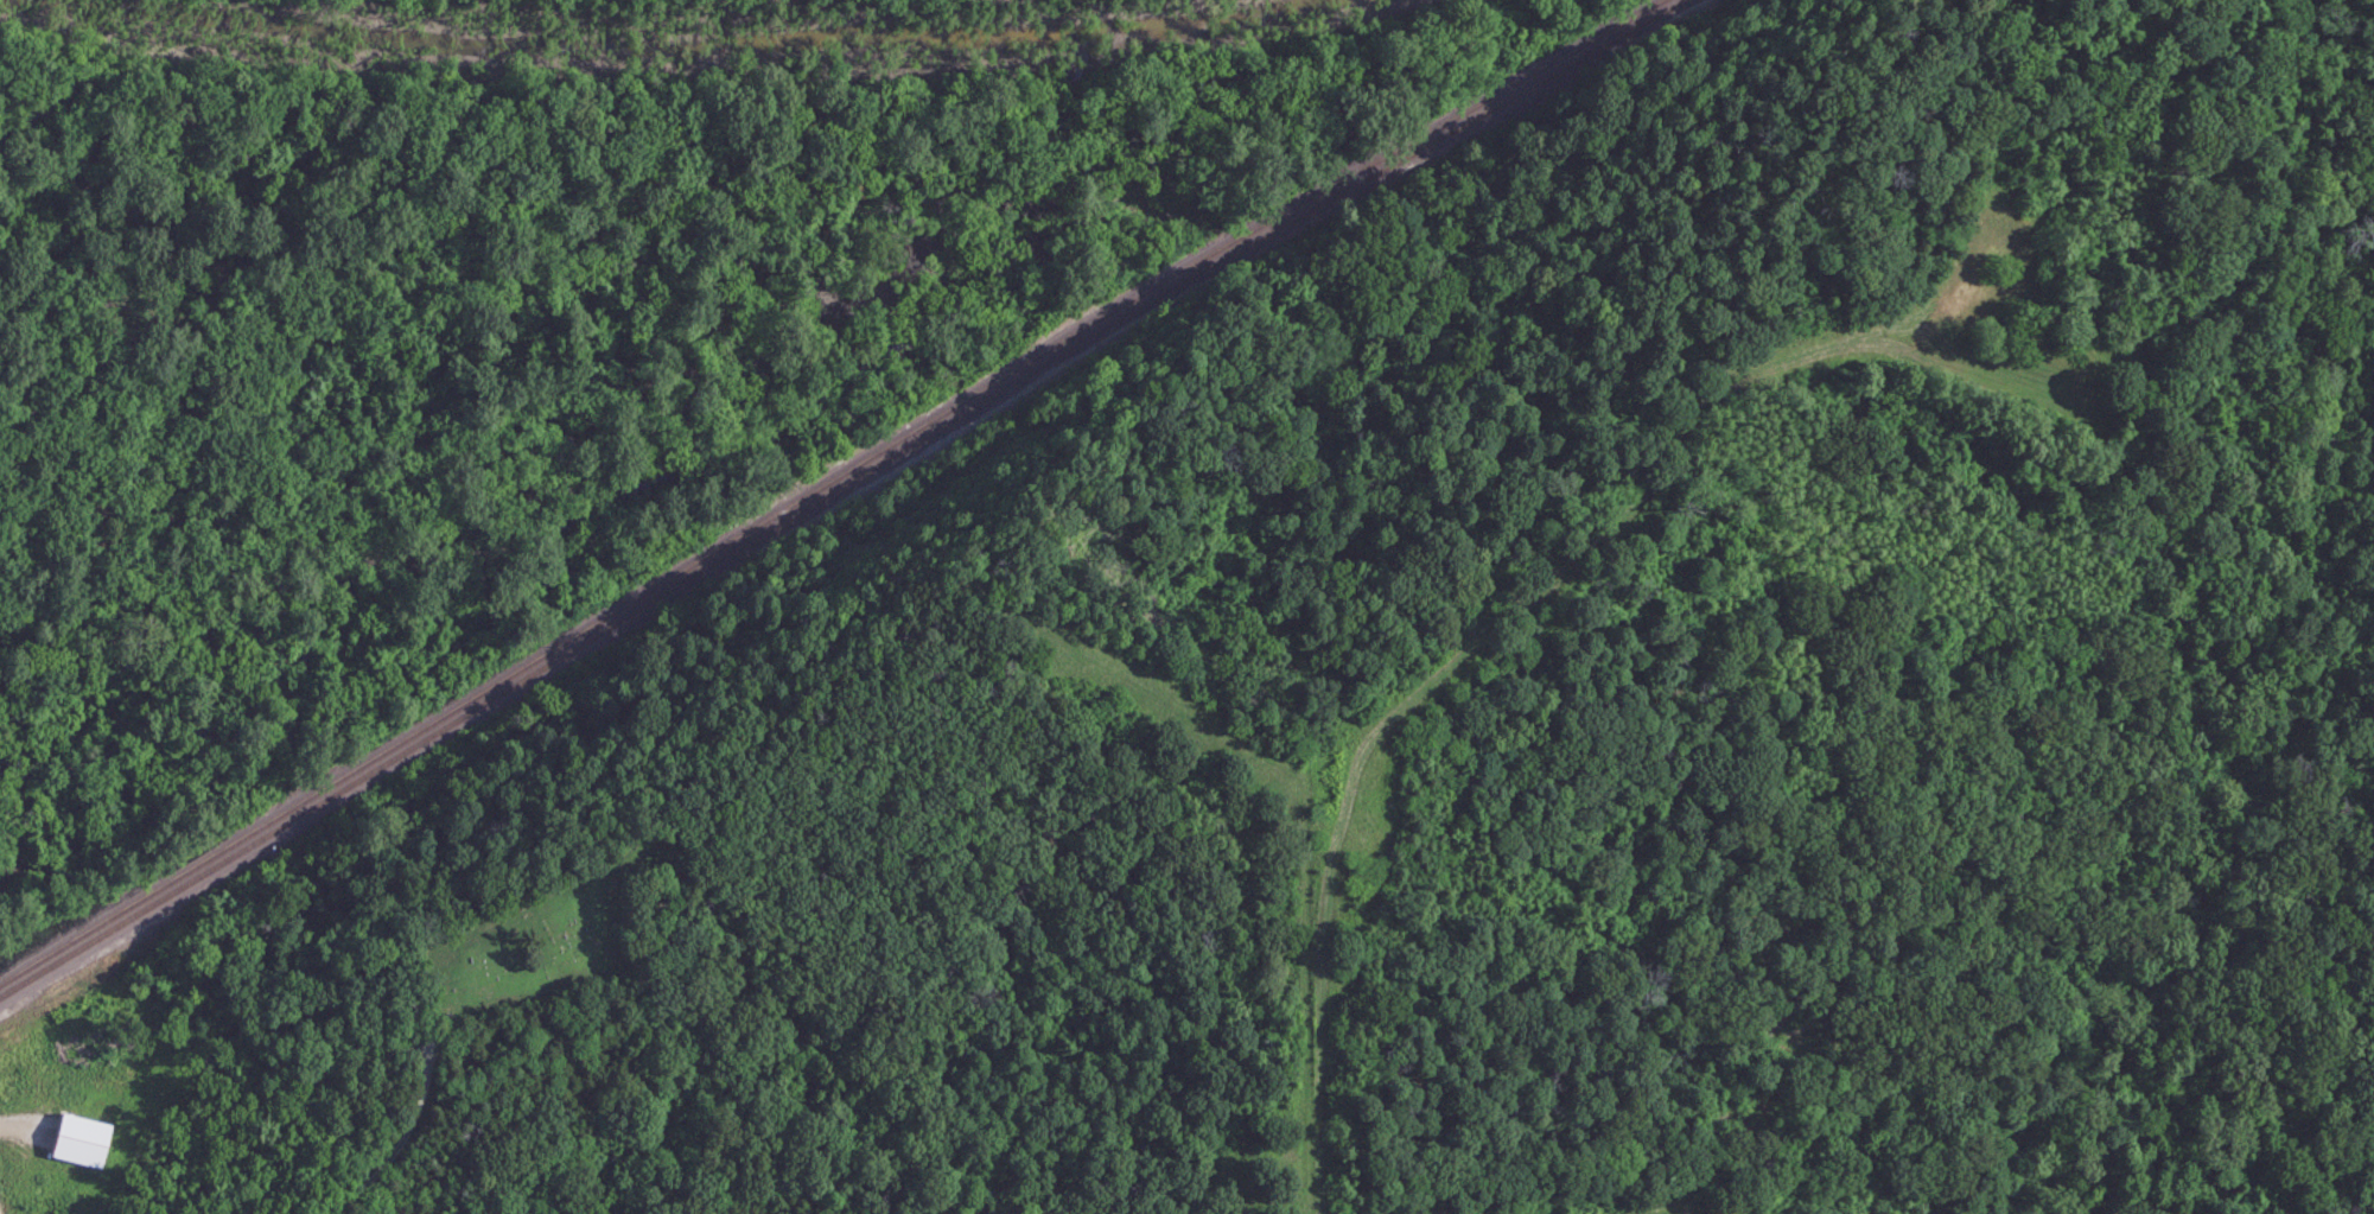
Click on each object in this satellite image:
railway: (825, 488)
railway: (839, 495)
road: (18, 1177)

